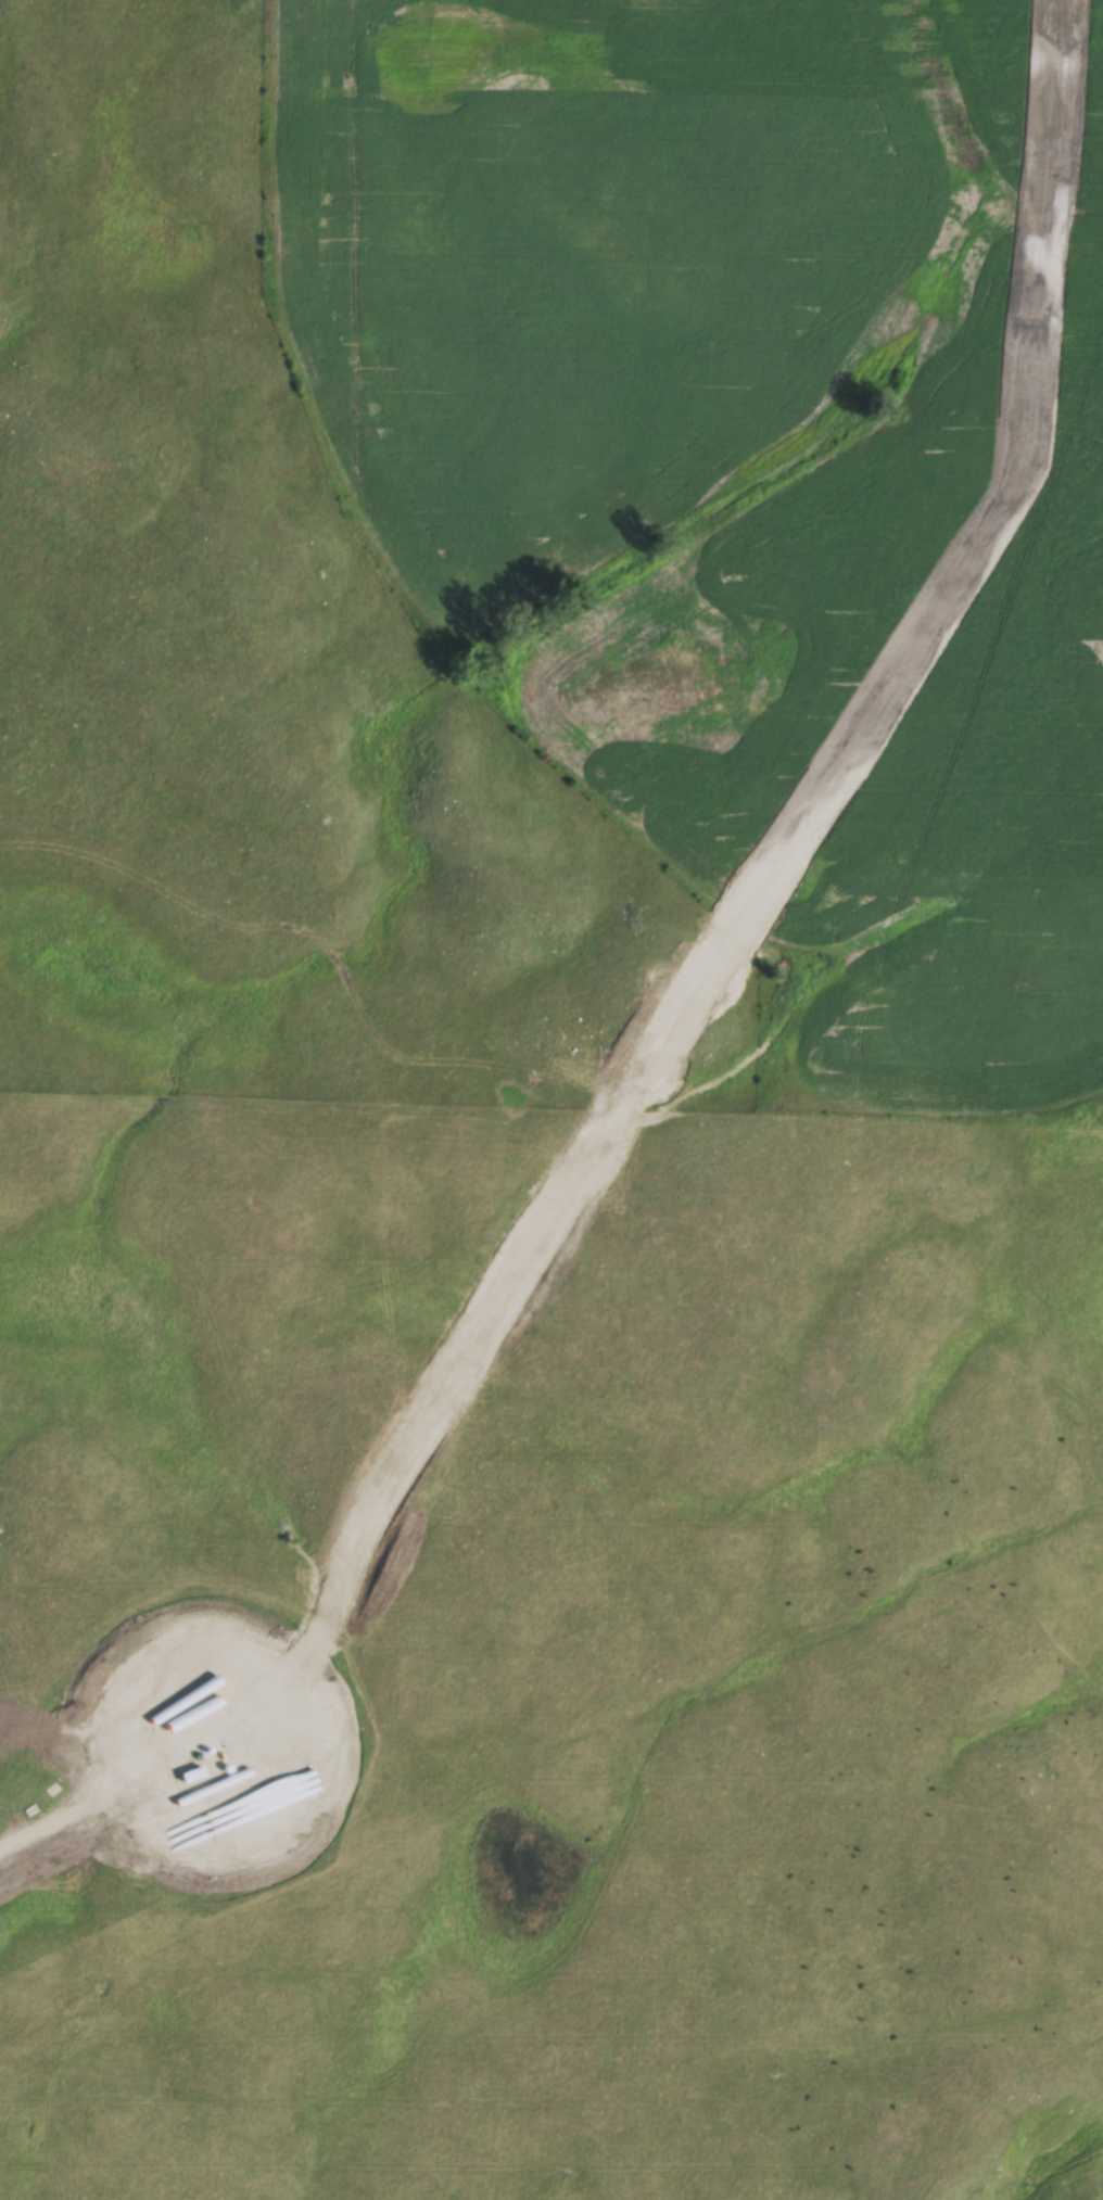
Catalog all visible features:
wind turbine: (207, 1750)

